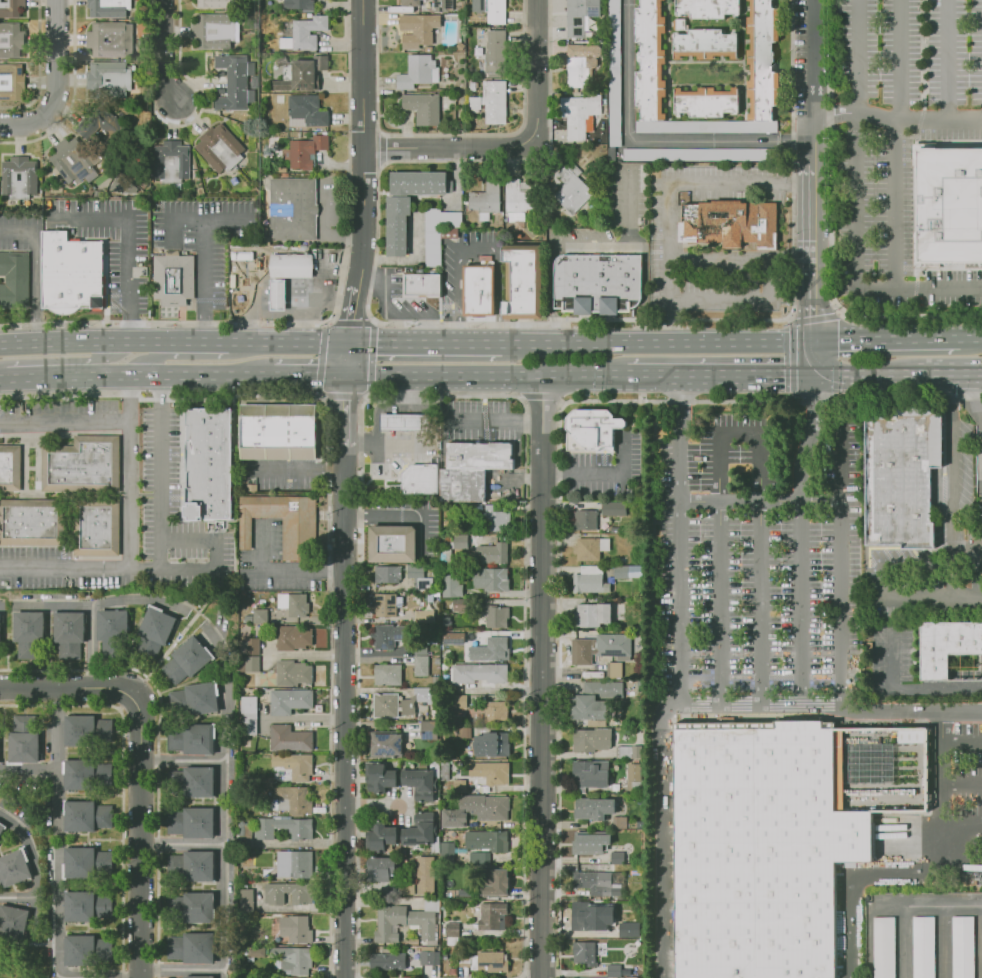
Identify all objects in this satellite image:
building: (411, 2)
building: (215, 3)
building: (296, 4)
building: (441, 5)
building: (12, 8)
building: (108, 8)
building: (705, 8)
building: (489, 10)
building: (579, 15)
building: (416, 29)
building: (212, 30)
building: (304, 33)
building: (113, 39)
building: (11, 40)
building: (704, 44)
road: (170, 51)
building: (494, 52)
road: (56, 58)
road: (861, 58)
road: (948, 62)
building: (579, 63)
road: (37, 68)
building: (307, 71)
building: (416, 71)
building: (613, 72)
building: (648, 72)
building: (110, 80)
building: (233, 80)
building: (11, 82)
road: (72, 95)
building: (490, 101)
building: (706, 101)
building: (422, 107)
building: (304, 110)
building: (578, 113)
road: (898, 122)
road: (23, 125)
building: (105, 129)
parking lot: (901, 136)
road: (651, 139)
road: (363, 140)
road: (517, 144)
road: (899, 144)
building: (219, 147)
building: (304, 151)
building: (695, 154)
building: (87, 160)
building: (169, 161)
road: (814, 170)
road: (454, 171)
building: (10, 177)
building: (572, 187)
road: (669, 190)
building: (484, 199)
building: (516, 199)
building: (950, 205)
building: (294, 210)
road: (221, 220)
building: (396, 224)
building: (731, 224)
road: (329, 227)
building: (438, 232)
road: (130, 243)
road: (478, 247)
road: (595, 249)
road: (409, 258)
road: (742, 261)
road: (859, 263)
road: (201, 264)
building: (292, 266)
road: (34, 269)
road: (331, 269)
building: (72, 273)
building: (14, 280)
building: (174, 281)
building: (524, 282)
building: (597, 283)
building: (424, 285)
building: (482, 291)
road: (643, 295)
building: (279, 296)
road: (551, 299)
road: (739, 299)
road: (309, 301)
road: (260, 314)
traffic signals: (352, 317)
road: (351, 328)
road: (968, 337)
road: (81, 341)
traffic signals: (377, 341)
road: (426, 341)
road: (194, 342)
road: (287, 342)
road: (659, 342)
traffic signals: (816, 342)
road: (885, 342)
road: (968, 342)
road: (151, 357)
road: (816, 358)
road: (101, 360)
road: (865, 374)
road: (948, 374)
traffic signals: (816, 375)
road: (48, 376)
road: (178, 376)
road: (719, 376)
road: (309, 377)
traffic signals: (313, 377)
road: (445, 377)
road: (558, 377)
road: (598, 377)
road: (3, 378)
traffic signals: (347, 401)
road: (377, 409)
road: (347, 411)
road: (64, 420)
road: (499, 421)
building: (409, 422)
gas station: (409, 422)
road: (981, 426)
road: (980, 427)
building: (590, 429)
building: (281, 432)
road: (739, 435)
road: (397, 444)
road: (951, 462)
building: (210, 464)
road: (303, 466)
building: (82, 467)
building: (10, 469)
building: (475, 470)
road: (129, 472)
road: (161, 472)
road: (597, 473)
building: (900, 476)
building: (418, 479)
road: (761, 502)
building: (614, 510)
road: (406, 515)
building: (496, 521)
building: (585, 521)
building: (32, 524)
building: (285, 524)
building: (97, 529)
road: (203, 539)
building: (396, 545)
building: (458, 546)
building: (590, 548)
road: (967, 552)
building: (494, 554)
parking lot: (759, 555)
road: (842, 565)
road: (917, 567)
road: (107, 569)
road: (283, 571)
building: (627, 572)
building: (390, 576)
building: (491, 579)
building: (587, 580)
road: (879, 582)
building: (424, 584)
building: (451, 587)
road: (931, 597)
road: (680, 603)
building: (385, 604)
building: (297, 605)
road: (84, 606)
building: (462, 606)
building: (591, 613)
building: (258, 616)
building: (424, 616)
building: (497, 616)
building: (445, 619)
building: (0, 627)
road: (801, 629)
building: (28, 632)
building: (112, 632)
building: (70, 633)
building: (153, 635)
building: (390, 635)
building: (292, 637)
building: (453, 638)
building: (613, 644)
building: (252, 645)
building: (496, 648)
building: (582, 651)
building: (951, 651)
building: (420, 660)
building: (193, 661)
building: (252, 664)
building: (614, 670)
building: (291, 672)
building: (478, 672)
building: (386, 676)
road: (542, 677)
building: (607, 688)
road: (70, 689)
road: (907, 690)
building: (423, 695)
building: (290, 701)
building: (200, 702)
building: (248, 702)
building: (458, 704)
building: (385, 705)
building: (408, 707)
building: (586, 707)
road: (346, 712)
building: (496, 713)
building: (248, 726)
building: (83, 728)
building: (429, 730)
building: (464, 732)
building: (911, 735)
building: (288, 738)
building: (195, 739)
building: (591, 739)
building: (25, 741)
building: (384, 743)
building: (491, 744)
road: (961, 744)
building: (630, 752)
building: (294, 766)
building: (490, 772)
building: (86, 774)
building: (590, 774)
building: (633, 774)
building: (379, 777)
building: (196, 778)
building: (419, 783)
road: (961, 785)
parking lot: (967, 791)
building: (295, 798)
building: (593, 808)
building: (476, 810)
road: (940, 810)
building: (85, 815)
building: (193, 821)
building: (619, 823)
building: (1, 826)
road: (225, 827)
road: (961, 827)
building: (244, 831)
building: (419, 832)
building: (2, 833)
road: (139, 833)
building: (302, 834)
road: (662, 836)
building: (380, 837)
building: (488, 840)
road: (57, 842)
road: (182, 843)
building: (582, 843)
building: (445, 851)
building: (763, 852)
building: (617, 857)
building: (478, 858)
building: (83, 860)
building: (296, 862)
road: (30, 864)
building: (192, 867)
building: (16, 869)
building: (386, 869)
building: (424, 875)
road: (847, 880)
building: (592, 881)
building: (407, 882)
building: (495, 882)
building: (310, 897)
building: (245, 898)
building: (86, 906)
building: (192, 906)
road: (890, 907)
building: (491, 915)
building: (586, 916)
building: (388, 922)
building: (10, 924)
building: (424, 924)
building: (296, 929)
building: (629, 929)
building: (452, 930)
road: (902, 942)
road: (942, 942)
road: (981, 942)
building: (922, 947)
building: (962, 947)
building: (193, 948)
building: (884, 948)
building: (81, 950)
building: (255, 952)
building: (583, 953)
building: (429, 958)
building: (491, 959)
building: (296, 960)
building: (386, 960)
road: (173, 969)
building: (613, 970)
building: (202, 976)

